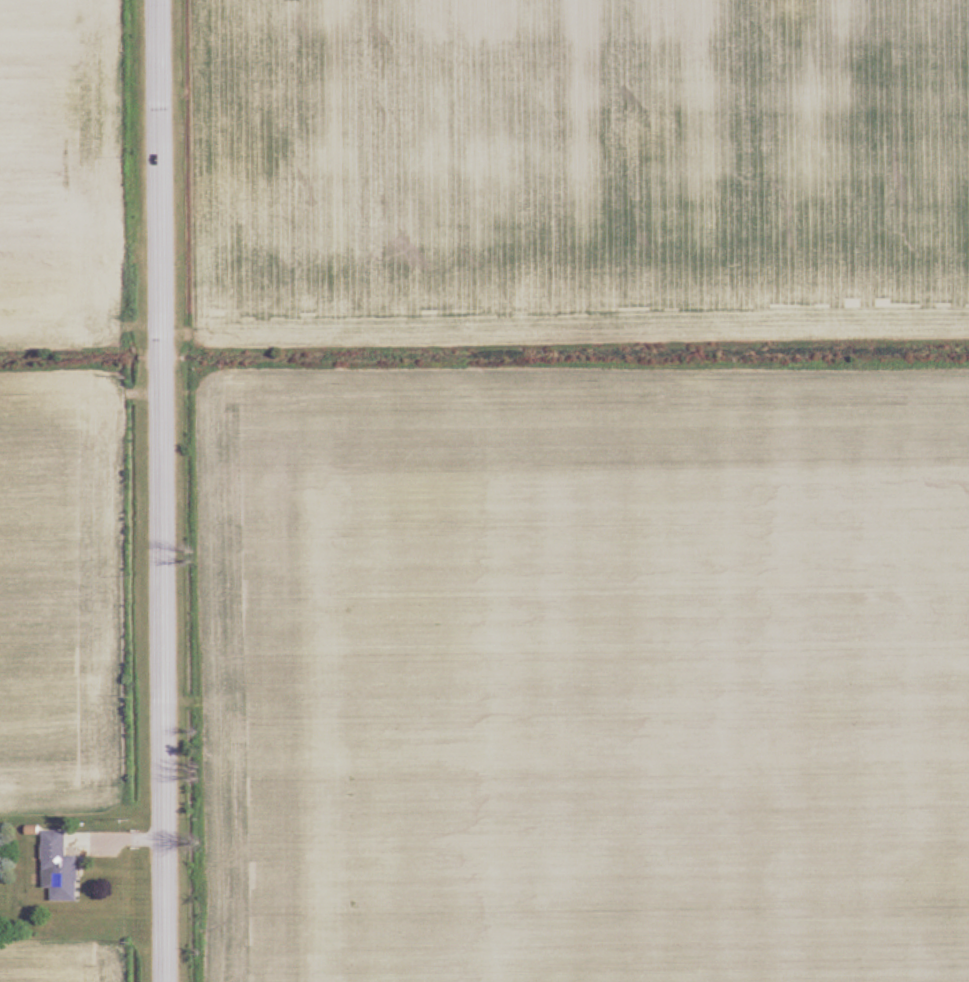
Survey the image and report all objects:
road: (162, 490)
building: (61, 869)

